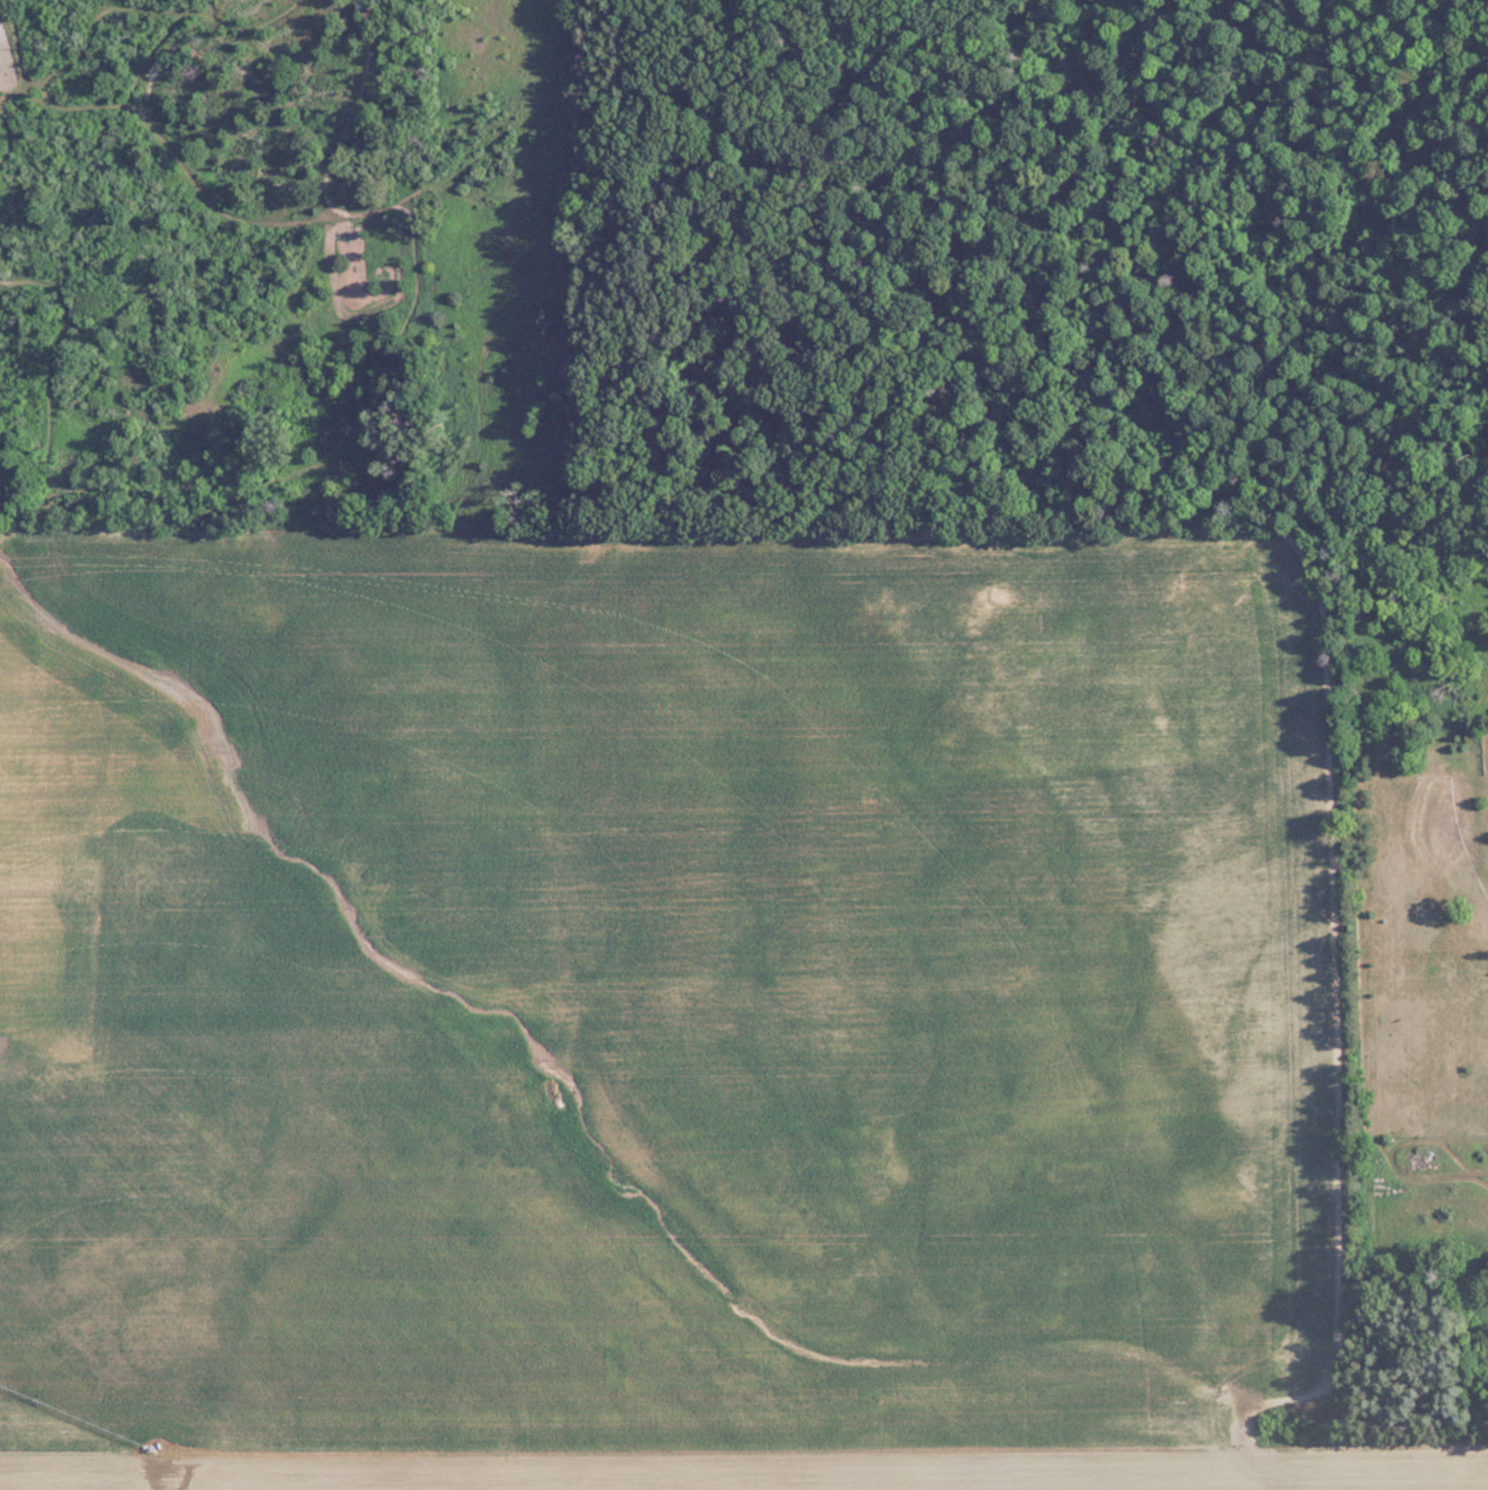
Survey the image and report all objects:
building: (1487, 493)

